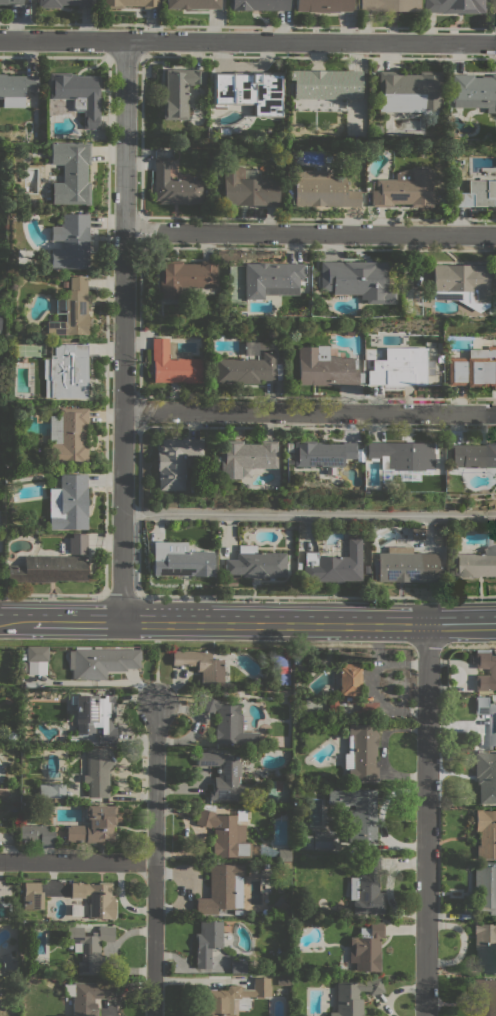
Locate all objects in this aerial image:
building: (11, 1)
building: (65, 3)
building: (129, 3)
building: (192, 4)
building: (257, 4)
building: (321, 5)
building: (387, 5)
building: (451, 6)
building: (493, 6)
road: (247, 40)
building: (324, 84)
building: (16, 89)
building: (178, 91)
building: (248, 91)
building: (407, 91)
building: (473, 91)
building: (78, 95)
building: (222, 130)
building: (376, 130)
building: (362, 134)
building: (158, 145)
building: (70, 172)
building: (174, 185)
building: (247, 187)
building: (321, 189)
building: (403, 189)
building: (478, 192)
road: (319, 217)
road: (310, 232)
building: (70, 241)
road: (332, 247)
building: (490, 265)
building: (184, 276)
building: (270, 279)
building: (356, 279)
building: (64, 284)
building: (460, 284)
building: (72, 310)
building: (349, 330)
road: (122, 331)
building: (251, 348)
building: (173, 363)
building: (399, 366)
building: (325, 367)
building: (473, 368)
building: (248, 369)
building: (66, 371)
road: (309, 412)
building: (67, 437)
building: (320, 453)
building: (401, 455)
building: (473, 455)
building: (244, 457)
building: (174, 461)
building: (191, 489)
building: (68, 502)
road: (309, 513)
building: (417, 532)
building: (78, 543)
building: (180, 560)
building: (256, 563)
building: (333, 564)
building: (475, 564)
building: (407, 565)
building: (48, 569)
road: (53, 593)
road: (121, 593)
road: (316, 595)
road: (14, 622)
road: (274, 622)
road: (461, 622)
road: (74, 623)
road: (204, 644)
road: (427, 645)
road: (471, 645)
building: (36, 654)
building: (100, 661)
building: (201, 665)
building: (24, 667)
building: (493, 672)
road: (155, 673)
building: (349, 682)
building: (332, 705)
building: (366, 710)
building: (95, 715)
building: (228, 722)
building: (493, 724)
building: (73, 741)
building: (82, 742)
building: (361, 751)
building: (97, 772)
building: (223, 776)
building: (486, 776)
building: (52, 790)
building: (3, 794)
building: (25, 807)
building: (357, 812)
road: (425, 819)
building: (93, 824)
building: (224, 833)
building: (486, 833)
building: (36, 834)
building: (322, 839)
building: (304, 842)
building: (273, 853)
road: (155, 859)
road: (77, 861)
building: (367, 888)
building: (484, 888)
building: (222, 889)
building: (32, 896)
building: (95, 898)
building: (237, 911)
building: (207, 941)
building: (485, 945)
building: (89, 947)
building: (367, 947)
building: (238, 965)
building: (283, 982)
building: (353, 995)
building: (87, 996)
building: (232, 997)
building: (484, 997)

